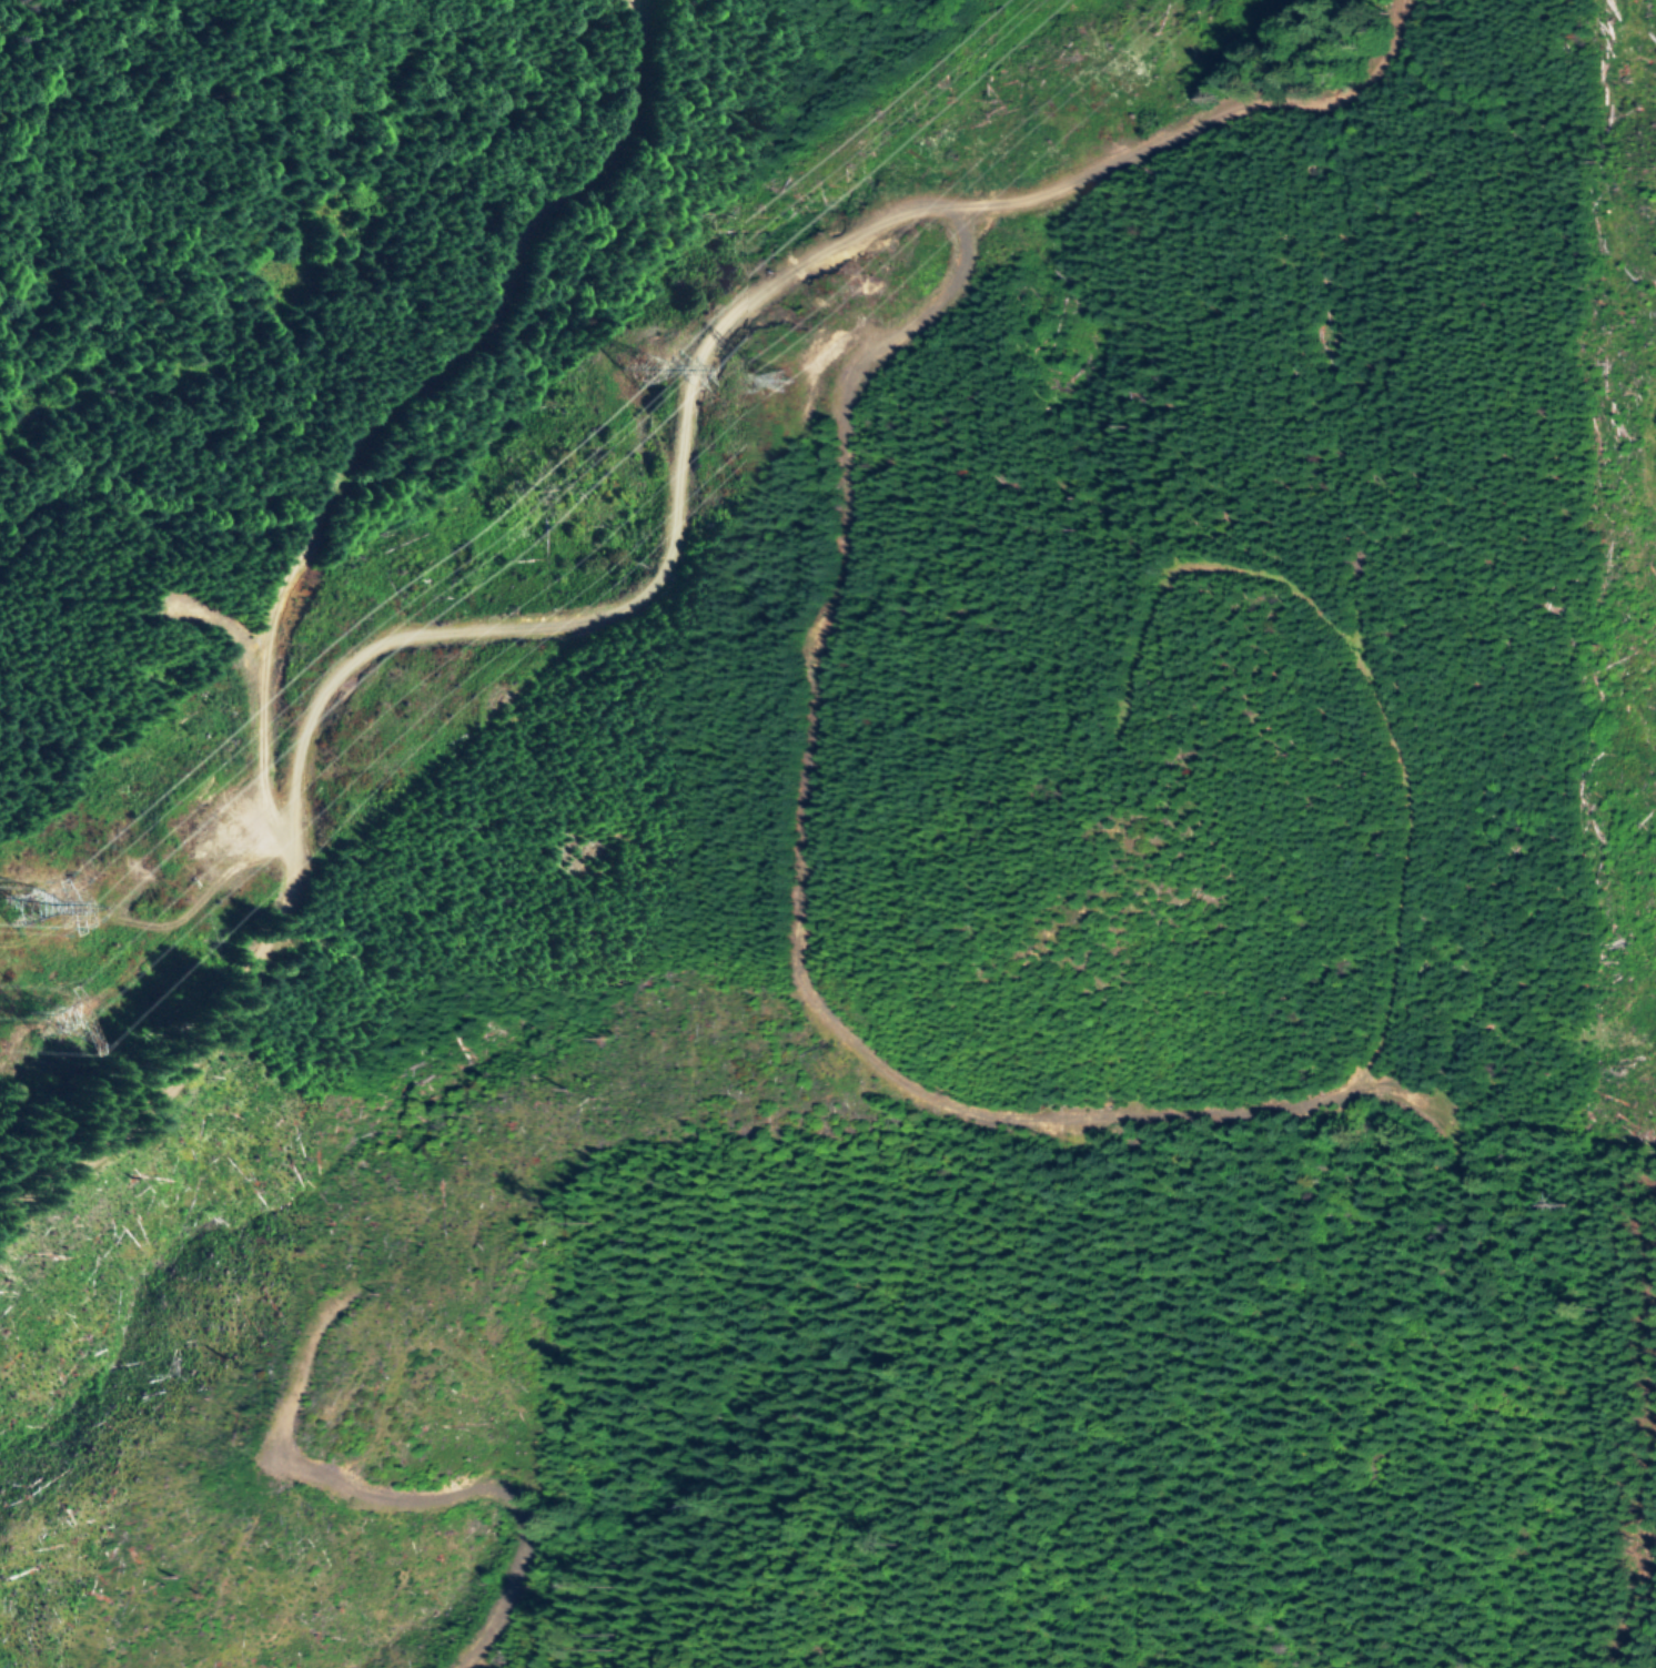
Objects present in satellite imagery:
power tower: (644, 377)
power tower: (787, 381)
road: (673, 538)
power tower: (22, 929)
power tower: (44, 1044)

